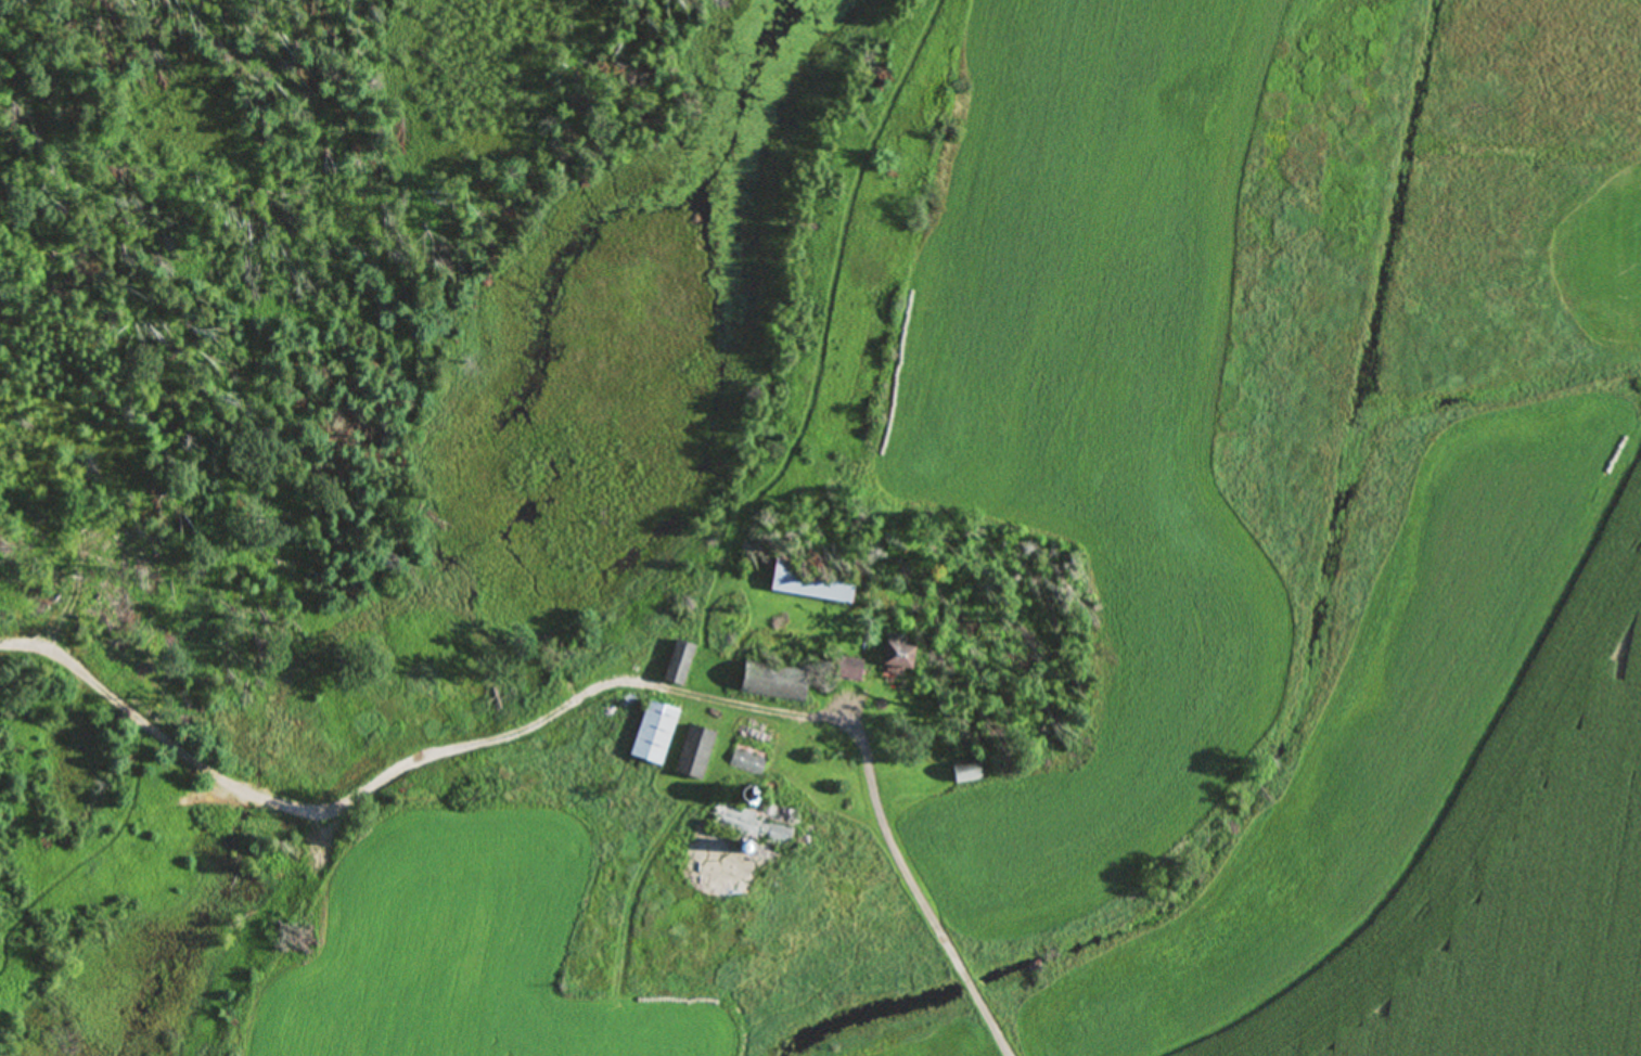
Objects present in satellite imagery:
building: (809, 580)
building: (895, 651)
building: (674, 664)
building: (846, 668)
building: (768, 681)
building: (652, 731)
building: (692, 752)
building: (747, 754)
building: (963, 772)
building: (748, 815)
road: (997, 937)

